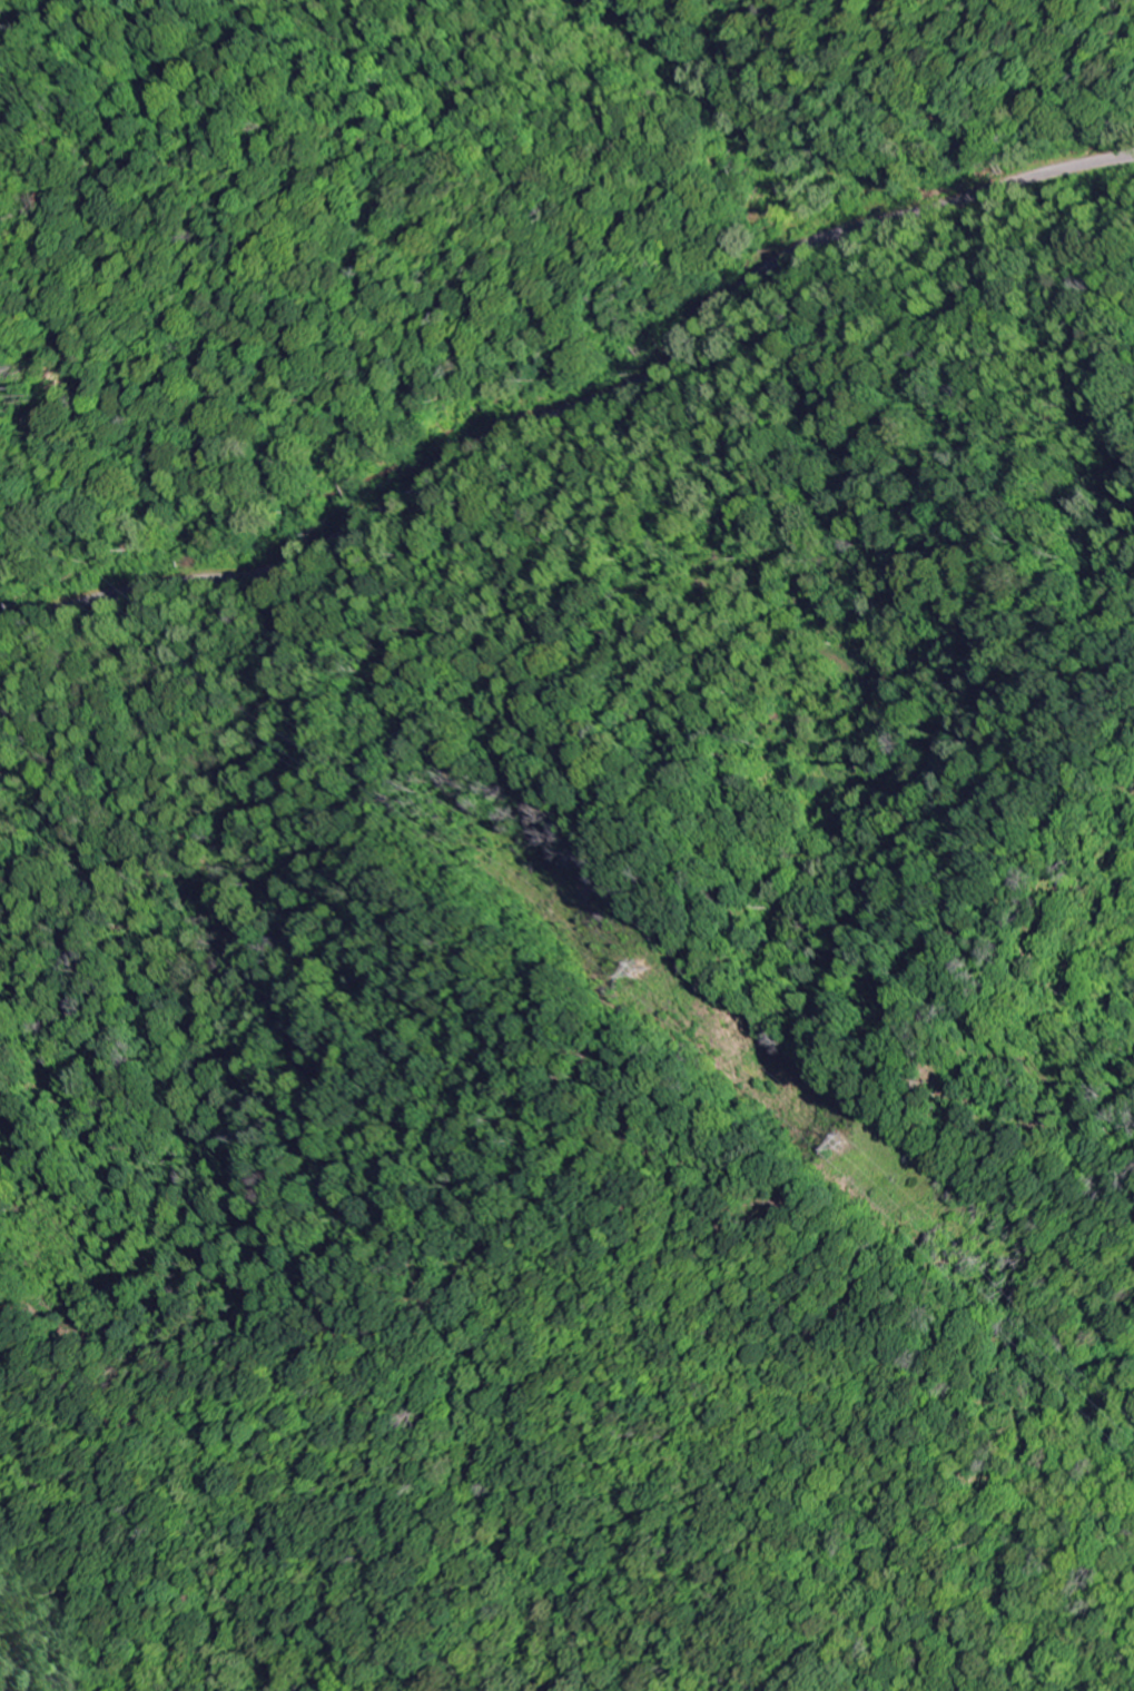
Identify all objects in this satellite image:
road: (573, 407)

